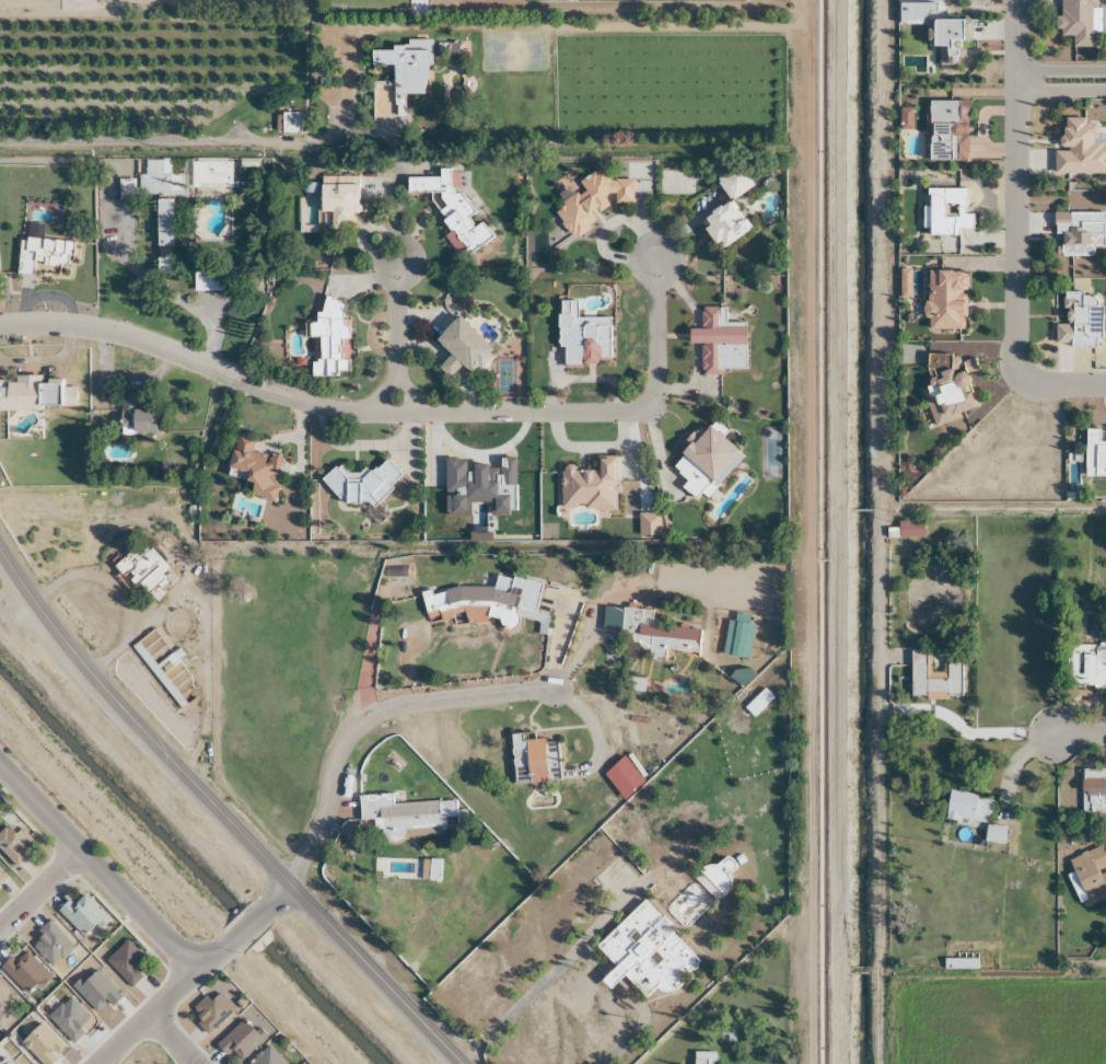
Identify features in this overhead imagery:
building: (1078, 21)
building: (946, 35)
road: (1059, 71)
building: (396, 79)
road: (1059, 91)
building: (290, 122)
road: (178, 144)
building: (1080, 149)
road: (55, 162)
building: (210, 176)
building: (160, 180)
building: (732, 182)
building: (592, 200)
building: (336, 204)
building: (451, 211)
building: (944, 211)
building: (163, 222)
building: (722, 225)
building: (1078, 231)
road: (1013, 234)
building: (42, 253)
building: (944, 300)
road: (394, 313)
building: (1079, 321)
building: (581, 336)
building: (328, 339)
building: (718, 342)
building: (462, 348)
road: (185, 358)
building: (946, 385)
road: (382, 393)
road: (409, 393)
building: (35, 394)
road: (395, 413)
road: (616, 413)
building: (133, 416)
building: (1094, 454)
building: (705, 462)
building: (253, 467)
building: (361, 483)
building: (589, 486)
building: (906, 530)
building: (141, 567)
building: (484, 602)
building: (656, 634)
building: (736, 636)
building: (1085, 667)
building: (934, 676)
building: (635, 684)
building: (757, 703)
road: (368, 718)
road: (973, 732)
road: (1080, 735)
building: (534, 760)
building: (1093, 790)
building: (967, 808)
road: (220, 814)
building: (406, 817)
building: (993, 834)
building: (13, 846)
building: (433, 865)
road: (97, 870)
building: (1090, 872)
building: (1, 877)
road: (38, 888)
road: (276, 899)
building: (81, 915)
road: (248, 925)
building: (49, 945)
building: (644, 953)
building: (126, 962)
building: (23, 972)
building: (96, 992)
road: (164, 1001)
building: (4, 1002)
building: (210, 1014)
building: (69, 1019)
road: (171, 1040)
building: (240, 1041)
building: (42, 1044)
building: (267, 1057)
building: (703, 1057)
building: (3, 1061)

